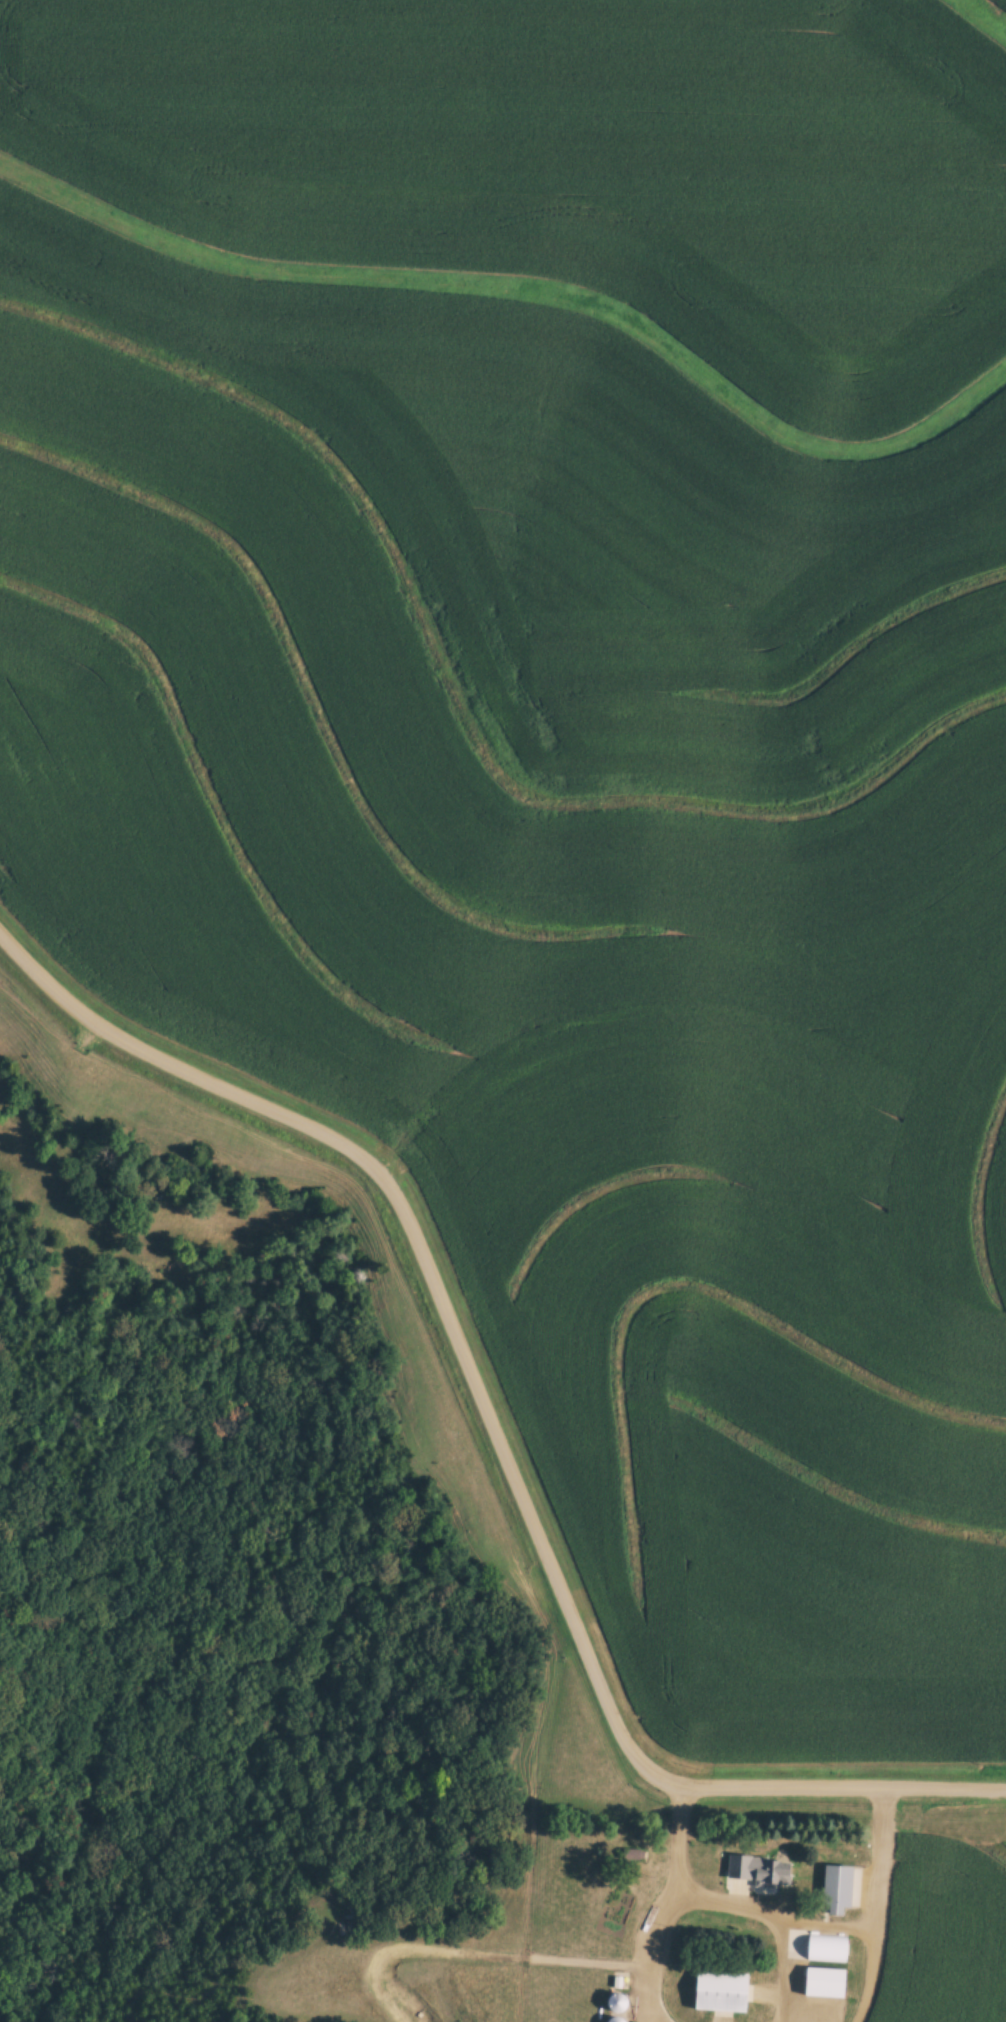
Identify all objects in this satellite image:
road: (432, 1282)
road: (846, 1787)
building: (775, 1874)
building: (737, 1880)
building: (841, 1890)
building: (617, 1914)
building: (831, 1949)
building: (828, 1983)
building: (724, 1992)

